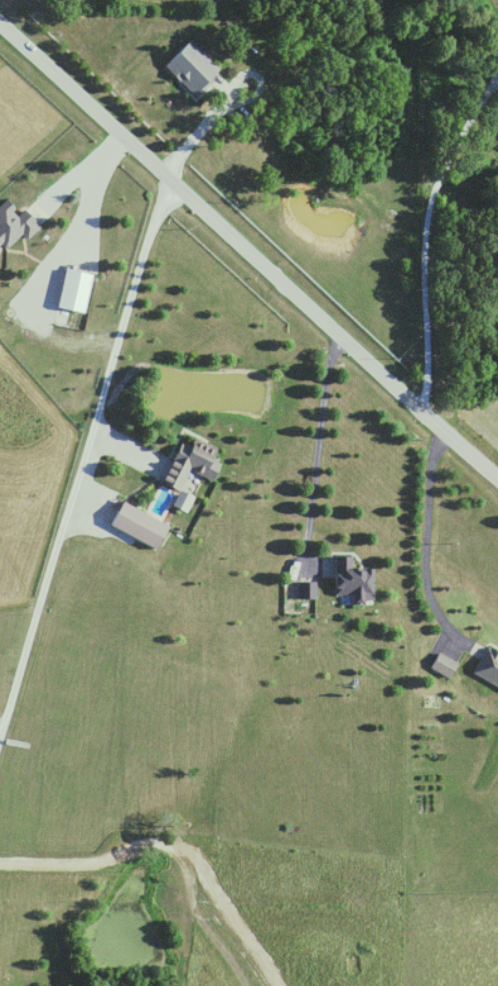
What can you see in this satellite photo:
building: (185, 66)
road: (194, 129)
building: (490, 135)
road: (78, 172)
building: (13, 225)
road: (423, 225)
road: (247, 255)
building: (70, 290)
road: (316, 447)
road: (80, 454)
building: (186, 462)
building: (180, 502)
building: (134, 526)
road: (424, 538)
building: (348, 582)
building: (303, 590)
building: (439, 665)
building: (486, 667)
road: (165, 847)

